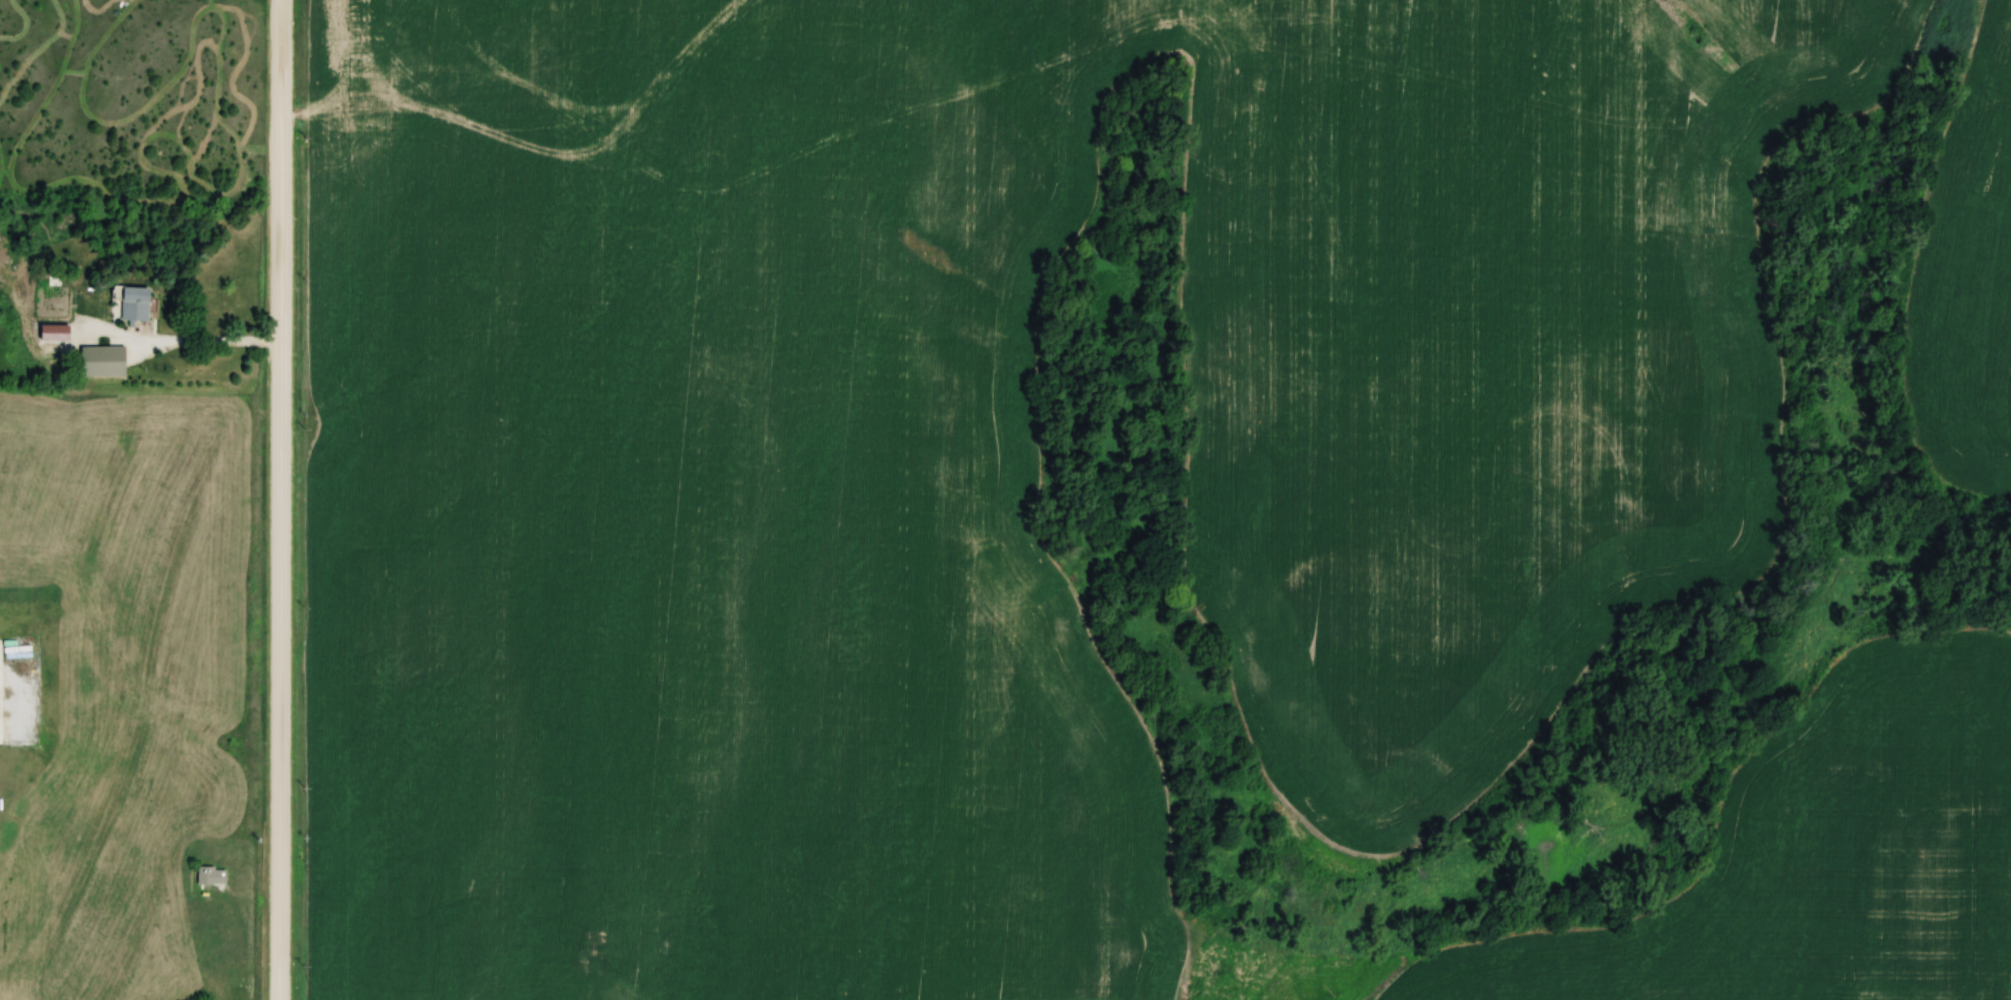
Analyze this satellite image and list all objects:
road: (282, 194)
building: (134, 305)
road: (178, 340)
building: (105, 362)
road: (282, 450)
road: (279, 756)
building: (210, 877)
building: (594, 937)

